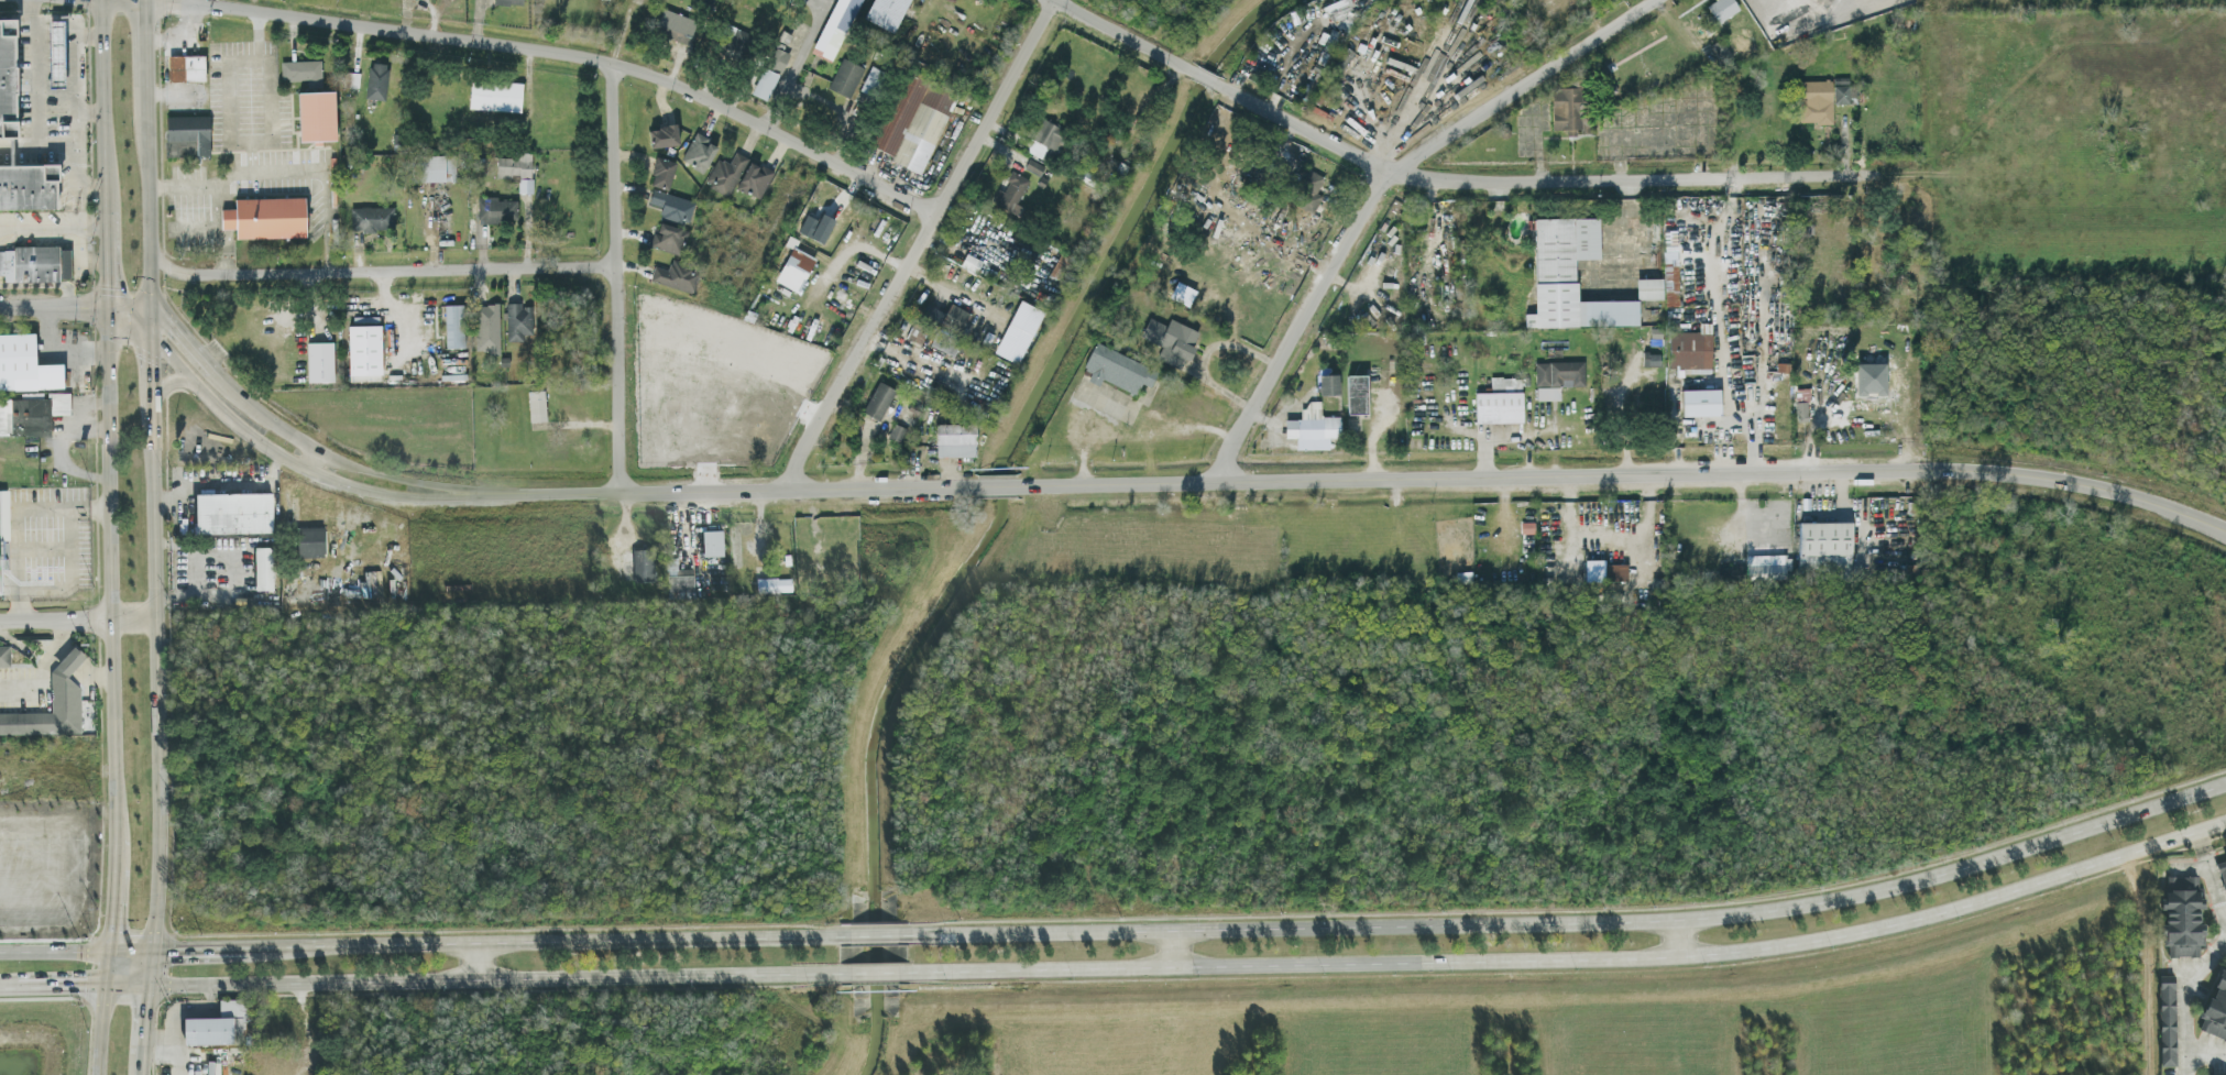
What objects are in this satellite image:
road: (185, 0)
building: (509, 1)
wastewater plant: (2064, 4)
building: (1721, 9)
building: (886, 12)
building: (673, 25)
building: (835, 28)
road: (1126, 36)
building: (735, 43)
building: (1720, 51)
building: (56, 53)
road: (572, 53)
road: (147, 56)
building: (777, 58)
building: (185, 67)
building: (300, 68)
building: (845, 76)
building: (8, 77)
road: (1204, 77)
building: (350, 78)
building: (375, 79)
building: (871, 80)
building: (1570, 81)
building: (764, 83)
building: (1843, 90)
building: (494, 95)
road: (25, 100)
building: (1814, 100)
road: (101, 106)
building: (1569, 109)
road: (73, 111)
road: (88, 113)
building: (316, 114)
building: (913, 119)
road: (270, 127)
building: (186, 134)
building: (662, 135)
road: (230, 139)
road: (3, 145)
building: (699, 152)
building: (1287, 161)
building: (427, 166)
building: (449, 166)
building: (516, 168)
road: (284, 169)
building: (661, 173)
building: (725, 173)
building: (754, 178)
building: (1308, 182)
road: (1550, 183)
building: (29, 186)
road: (1379, 189)
building: (1011, 194)
building: (671, 205)
building: (496, 209)
road: (150, 213)
building: (264, 216)
building: (371, 218)
road: (52, 227)
building: (821, 228)
building: (668, 237)
road: (918, 244)
road: (105, 257)
road: (158, 259)
building: (34, 263)
road: (497, 265)
building: (793, 268)
road: (285, 271)
road: (614, 275)
building: (675, 275)
building: (1569, 275)
building: (1669, 277)
building: (1647, 287)
road: (53, 304)
traffic signals: (106, 304)
road: (386, 306)
road: (129, 308)
traffic signals: (153, 314)
building: (946, 315)
building: (517, 320)
building: (453, 325)
road: (1866, 325)
road: (153, 327)
building: (486, 327)
building: (915, 330)
building: (1017, 330)
building: (1170, 339)
traffic signals: (153, 340)
building: (944, 340)
building: (1689, 348)
road: (54, 349)
building: (364, 352)
building: (319, 361)
building: (25, 364)
building: (1116, 368)
road: (153, 373)
building: (1556, 376)
building: (1868, 379)
building: (1327, 383)
building: (1356, 393)
building: (877, 399)
road: (1116, 401)
building: (1499, 401)
building: (1699, 401)
building: (536, 405)
building: (1799, 409)
building: (31, 414)
building: (1312, 426)
building: (897, 431)
building: (955, 439)
road: (300, 440)
road: (63, 446)
road: (273, 452)
road: (309, 459)
road: (1624, 474)
road: (224, 486)
road: (997, 486)
road: (733, 491)
road: (90, 509)
building: (235, 515)
building: (3, 531)
building: (1527, 535)
road: (18, 538)
building: (312, 544)
building: (714, 545)
road: (111, 566)
building: (1767, 566)
building: (645, 567)
building: (265, 569)
building: (1616, 571)
road: (228, 572)
road: (70, 575)
building: (680, 582)
building: (775, 586)
road: (78, 618)
road: (63, 648)
building: (4, 657)
road: (74, 660)
road: (44, 672)
road: (95, 677)
road: (158, 679)
building: (53, 706)
building: (2225, 856)
building: (2223, 874)
road: (2211, 877)
road: (112, 908)
building: (2183, 918)
road: (1576, 922)
road: (2225, 922)
traffic signals: (109, 931)
road: (873, 936)
road: (1675, 939)
road: (524, 944)
road: (1174, 950)
road: (156, 951)
traffic signals: (174, 951)
road: (52, 952)
road: (1577, 962)
road: (479, 963)
road: (875, 975)
road: (493, 980)
traffic signals: (80, 987)
road: (81, 987)
road: (8, 988)
road: (2185, 1001)
traffic signals: (145, 1006)
building: (2216, 1011)
road: (144, 1013)
road: (178, 1017)
building: (2168, 1022)
building: (220, 1027)
road: (99, 1030)
road: (305, 1030)
road: (2185, 1065)

